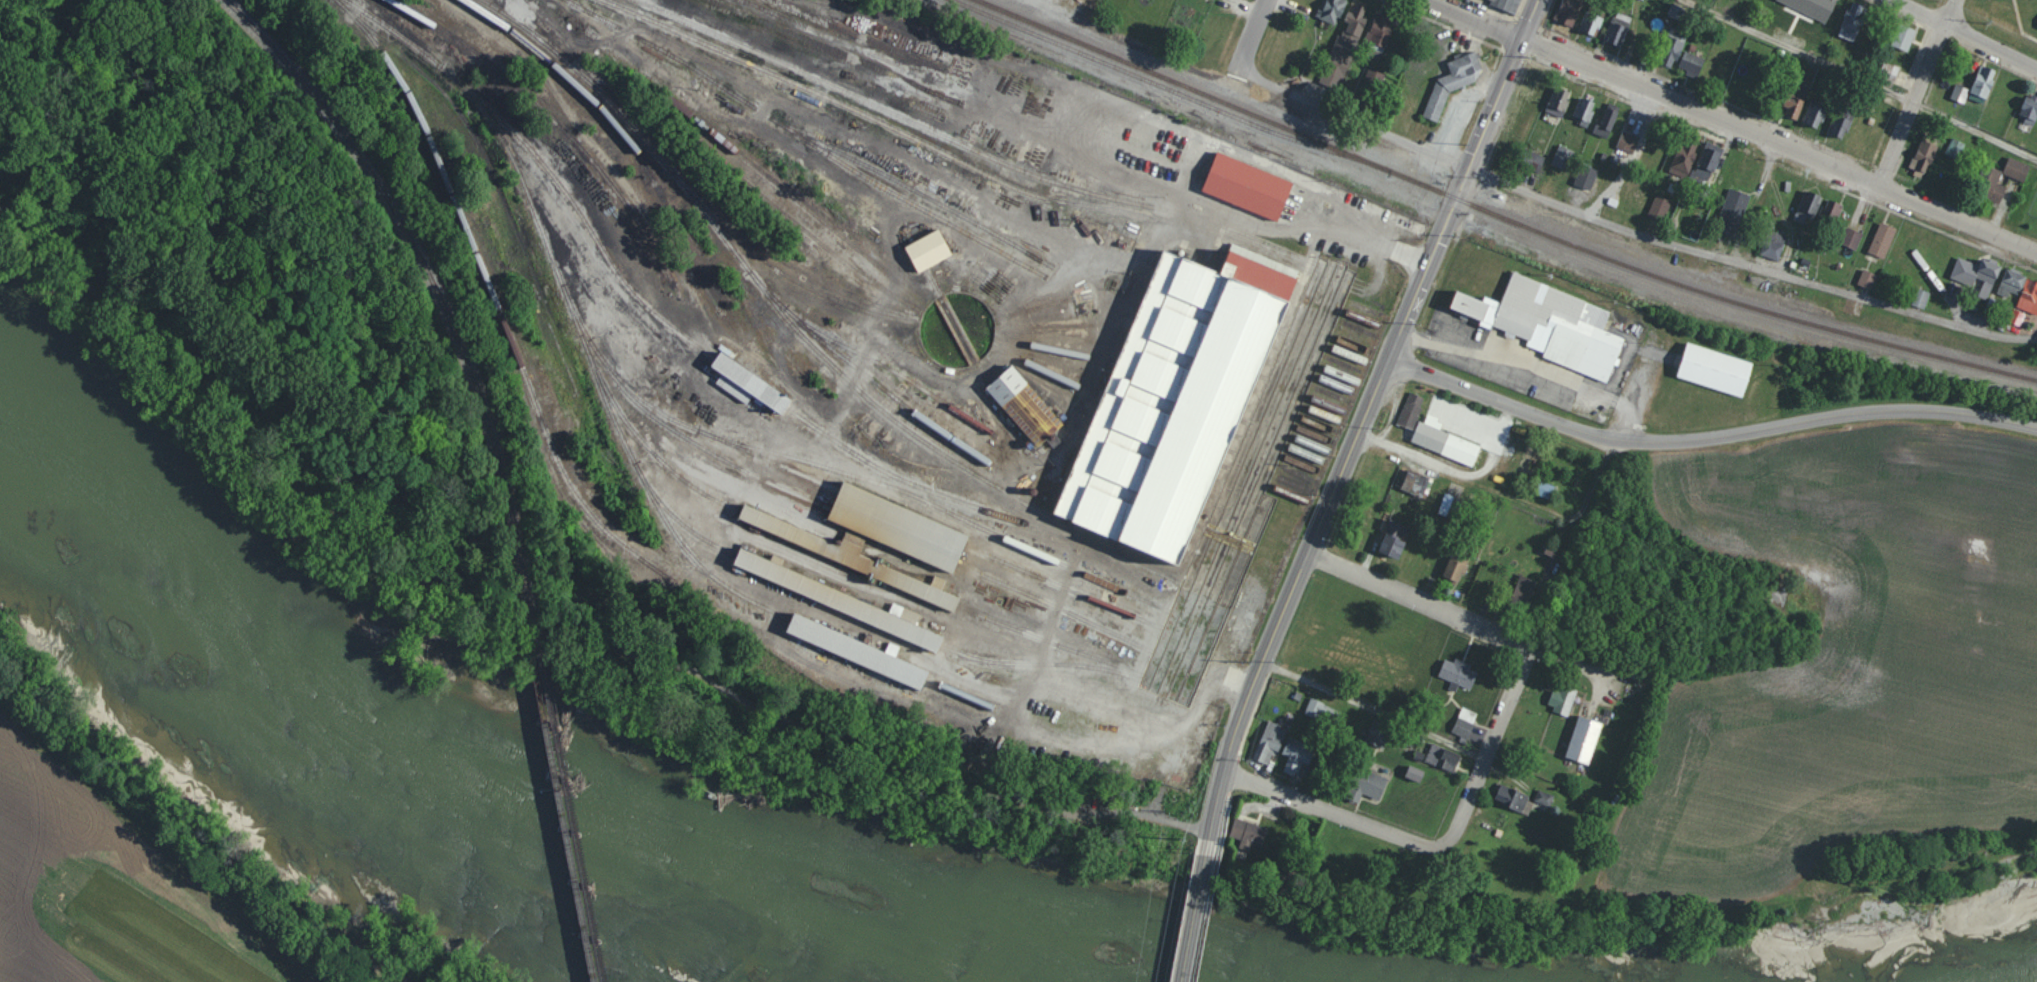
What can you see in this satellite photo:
building: (1502, 6)
building: (1810, 8)
building: (1327, 11)
building: (1341, 13)
building: (1576, 13)
building: (1365, 21)
building: (1601, 23)
building: (1861, 25)
building: (1610, 31)
building: (1393, 33)
building: (1627, 34)
railway: (872, 36)
building: (1897, 38)
road: (1948, 43)
building: (1435, 49)
railway: (846, 51)
building: (1680, 54)
road: (1244, 55)
building: (1343, 64)
railway: (1118, 67)
building: (1381, 85)
road: (1846, 86)
building: (1969, 87)
building: (1987, 90)
building: (1545, 92)
building: (1454, 93)
road: (1917, 98)
road: (1272, 101)
building: (1568, 102)
building: (1553, 103)
building: (1779, 107)
building: (1581, 112)
building: (1804, 112)
building: (2030, 112)
building: (1592, 113)
building: (1815, 113)
railway: (554, 116)
railway: (914, 118)
building: (1826, 120)
railway: (885, 121)
building: (1604, 121)
building: (1840, 124)
building: (1616, 125)
road: (1730, 127)
railway: (624, 130)
building: (1852, 130)
building: (1930, 137)
railway: (821, 144)
building: (1637, 147)
railway: (739, 148)
building: (1956, 149)
railway: (1323, 150)
building: (1931, 155)
building: (1562, 157)
building: (1574, 160)
building: (1728, 160)
building: (1707, 162)
building: (1688, 166)
building: (2016, 169)
building: (1586, 176)
building: (1596, 181)
railway: (689, 185)
building: (1251, 185)
building: (1994, 186)
railway: (913, 188)
building: (2014, 190)
railway: (772, 198)
building: (1659, 207)
building: (1666, 209)
building: (1831, 209)
building: (1811, 213)
railway: (1496, 216)
building: (1743, 218)
railway: (514, 222)
building: (1852, 238)
road: (1372, 239)
road: (1650, 239)
building: (1861, 241)
building: (1773, 245)
building: (1888, 245)
building: (929, 249)
building: (1993, 275)
building: (1867, 278)
building: (1876, 281)
railway: (425, 284)
building: (2022, 287)
railway: (637, 293)
railway: (498, 300)
building: (1926, 301)
building: (2036, 302)
railway: (1033, 308)
railway: (570, 311)
building: (1561, 323)
railway: (1359, 325)
railway: (1037, 326)
railway: (1041, 336)
railway: (973, 362)
road: (1529, 362)
railway: (1039, 365)
railway: (1340, 365)
railway: (902, 370)
building: (1720, 371)
railway: (1334, 374)
railway: (1330, 382)
building: (749, 383)
building: (1192, 401)
railway: (1321, 402)
building: (1030, 405)
building: (1411, 410)
railway: (895, 412)
road: (1889, 412)
railway: (1316, 413)
road: (1356, 422)
railway: (666, 423)
road: (1559, 423)
building: (1448, 440)
railway: (1304, 444)
railway: (1301, 454)
railway: (778, 460)
railway: (1298, 463)
railway: (669, 467)
railway: (836, 468)
railway: (1289, 484)
building: (1422, 487)
railway: (1285, 494)
building: (1447, 505)
building: (1459, 510)
railway: (899, 516)
railway: (688, 524)
building: (895, 524)
railway: (892, 533)
road: (1571, 542)
building: (1402, 548)
railway: (849, 556)
building: (851, 557)
building: (1456, 566)
building: (1467, 572)
railway: (1050, 588)
building: (1527, 593)
road: (1415, 596)
building: (840, 598)
railway: (839, 599)
railway: (1075, 615)
railway: (534, 626)
road: (547, 636)
railway: (537, 639)
railway: (1034, 645)
building: (860, 648)
railway: (860, 648)
road: (1519, 665)
railway: (842, 666)
railway: (1186, 677)
building: (1466, 678)
railway: (1071, 683)
building: (1561, 699)
building: (1572, 701)
building: (1321, 710)
building: (1337, 716)
railway: (1026, 717)
building: (1464, 724)
building: (1473, 727)
road: (1493, 728)
building: (1388, 732)
building: (1378, 733)
building: (1591, 744)
building: (1294, 752)
building: (1449, 759)
building: (1415, 774)
river: (373, 779)
building: (1378, 784)
road: (1272, 789)
building: (1532, 803)
railway: (570, 813)
building: (1247, 831)
road: (1419, 845)
road: (1193, 918)

